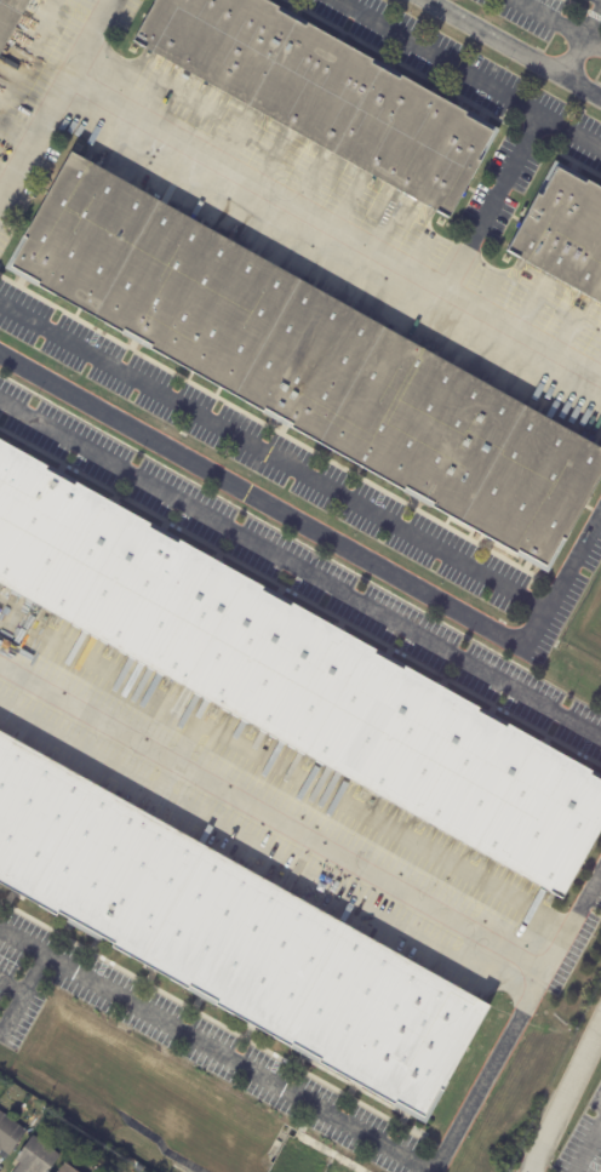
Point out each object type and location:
building: (10, 18)
road: (559, 23)
road: (583, 45)
road: (514, 48)
road: (467, 75)
building: (322, 93)
road: (55, 102)
road: (511, 178)
road: (333, 227)
building: (562, 236)
building: (309, 362)
road: (274, 458)
road: (328, 538)
road: (299, 570)
building: (296, 678)
road: (275, 819)
building: (228, 939)
road: (24, 983)
road: (520, 1024)
road: (214, 1050)
road: (565, 1097)
building: (10, 1133)
road: (586, 1145)
building: (36, 1156)
building: (67, 1168)

